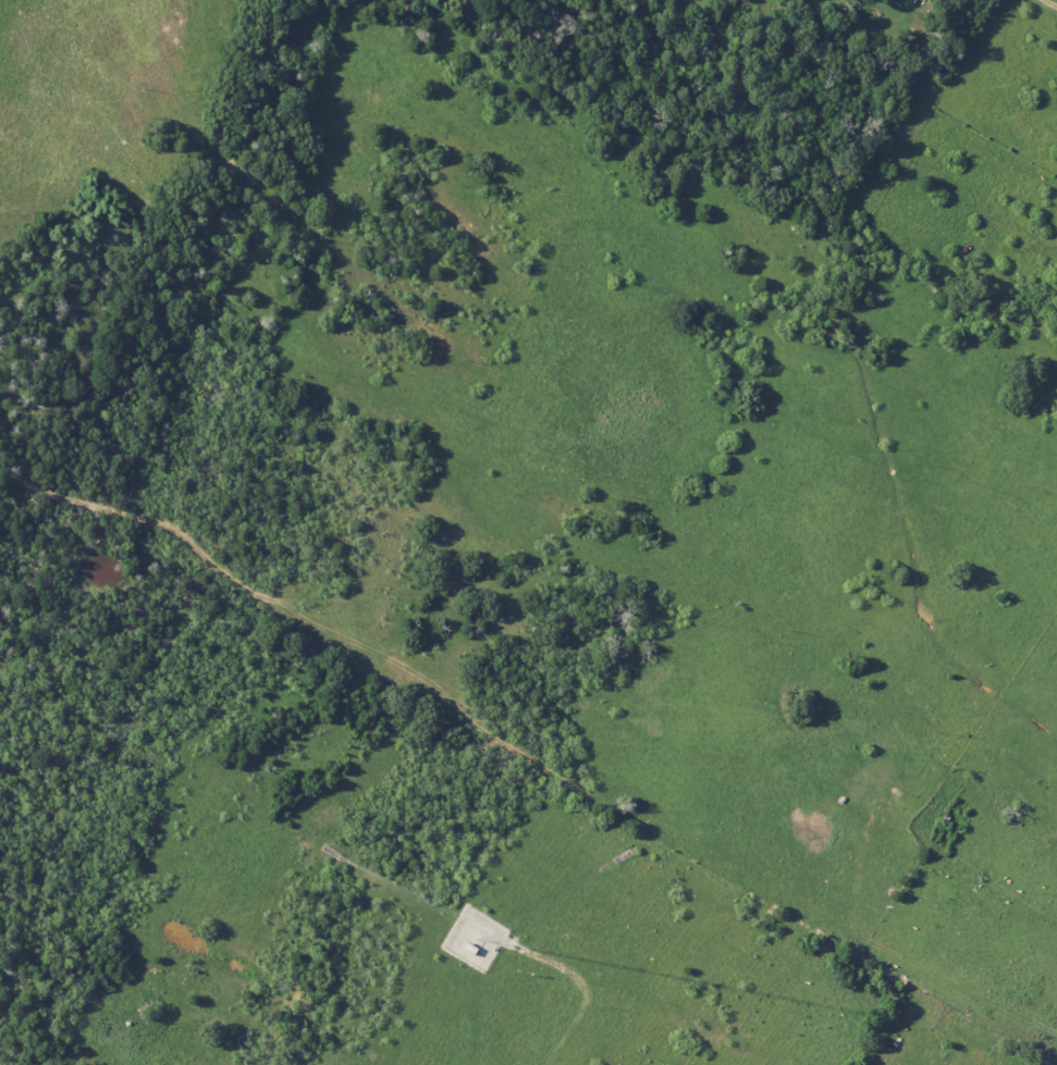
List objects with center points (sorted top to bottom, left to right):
road: (1046, 5)

